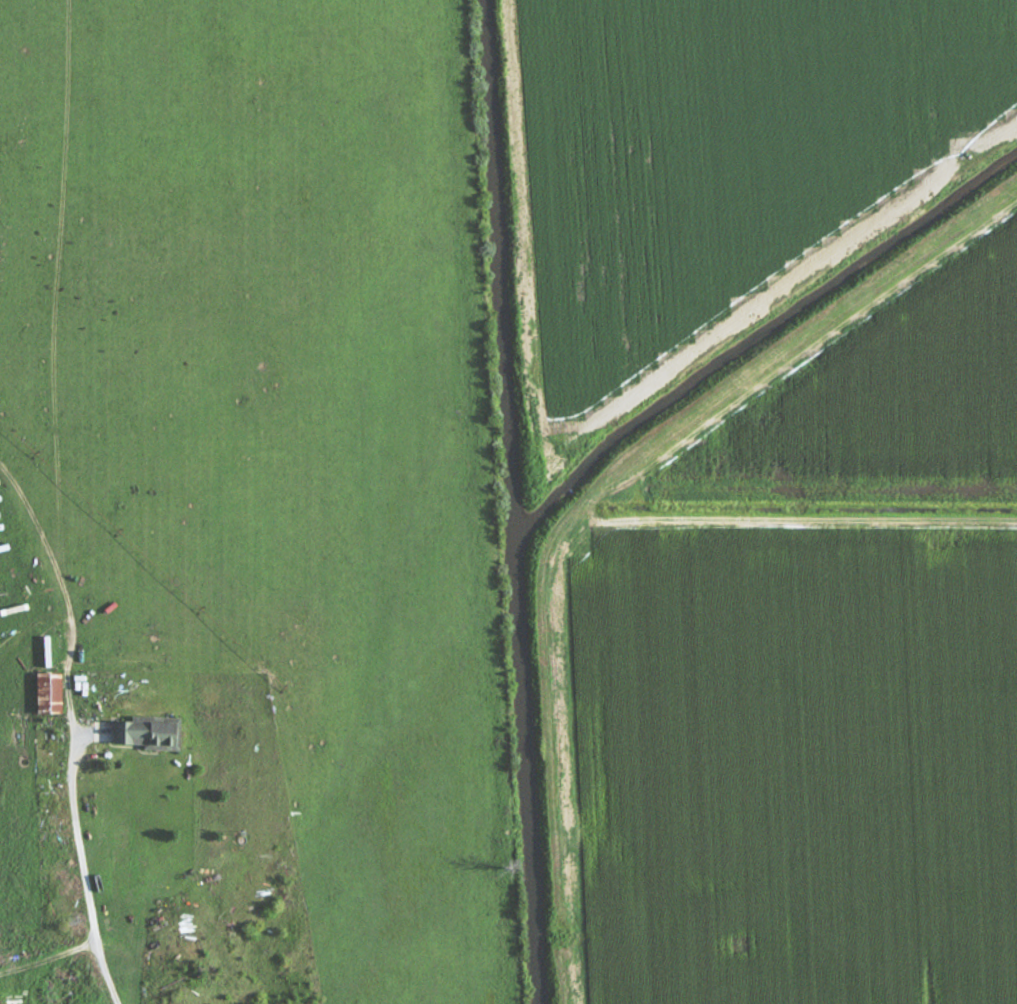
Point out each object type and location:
building: (51, 693)
building: (152, 733)

